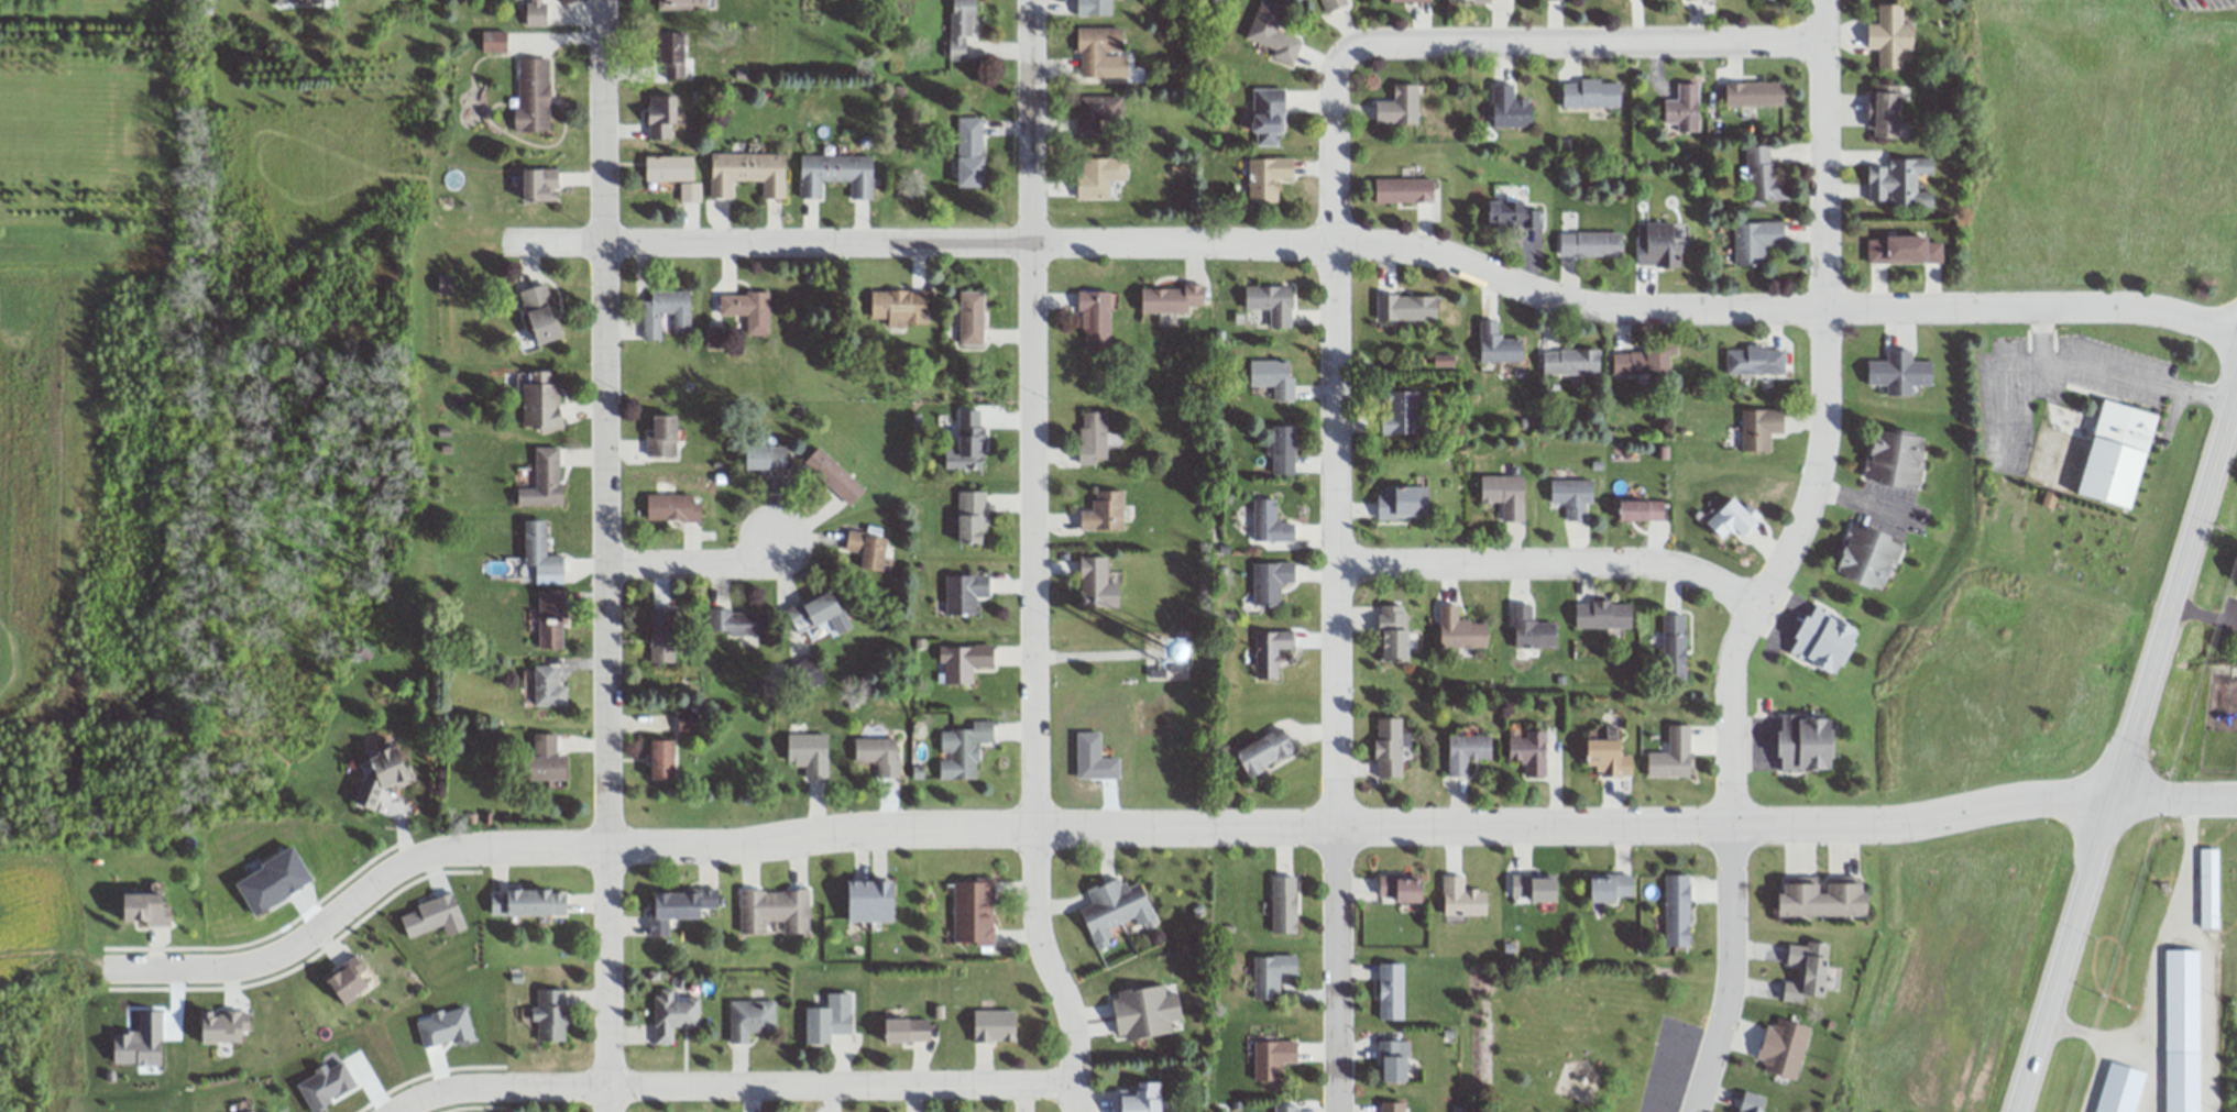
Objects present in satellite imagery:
building: (283, 0)
building: (1410, 0)
building: (1480, 0)
building: (309, 1)
building: (1331, 3)
building: (681, 4)
building: (1093, 7)
building: (536, 11)
building: (961, 26)
building: (1272, 32)
building: (1889, 36)
road: (1578, 41)
building: (1096, 48)
building: (672, 55)
building: (531, 92)
building: (1591, 92)
building: (1754, 92)
building: (1399, 104)
building: (1510, 106)
building: (1682, 107)
building: (1887, 110)
building: (1096, 112)
building: (661, 115)
building: (1268, 115)
building: (971, 151)
building: (747, 172)
building: (675, 174)
building: (836, 174)
building: (1098, 176)
building: (1763, 176)
building: (1266, 177)
building: (1899, 181)
building: (540, 183)
building: (1404, 189)
building: (1510, 213)
building: (1755, 240)
road: (1374, 242)
building: (1590, 243)
building: (1659, 244)
building: (1905, 249)
building: (445, 284)
building: (1170, 298)
building: (1271, 301)
building: (1405, 306)
building: (900, 307)
building: (747, 310)
building: (665, 311)
building: (540, 313)
building: (971, 318)
building: (1094, 319)
building: (713, 339)
building: (1498, 343)
building: (1754, 360)
building: (1570, 361)
building: (1641, 361)
road: (2109, 368)
building: (1898, 372)
building: (1273, 376)
road: (2000, 392)
building: (540, 399)
building: (1400, 411)
road: (1827, 423)
building: (1759, 428)
building: (662, 436)
building: (1092, 437)
building: (972, 438)
building: (2118, 453)
building: (1277, 454)
building: (1896, 458)
building: (766, 460)
building: (833, 476)
building: (544, 478)
building: (1504, 494)
building: (1571, 495)
building: (1403, 503)
building: (672, 507)
building: (1641, 509)
building: (1104, 510)
building: (972, 517)
building: (1733, 518)
building: (1269, 522)
building: (867, 550)
building: (539, 554)
road: (603, 555)
building: (1868, 555)
road: (1032, 558)
road: (691, 562)
road: (1557, 565)
building: (1270, 581)
road: (1339, 581)
building: (1099, 582)
building: (964, 594)
building: (818, 613)
building: (1602, 614)
building: (550, 620)
building: (737, 623)
building: (1531, 628)
building: (1460, 629)
building: (1393, 632)
building: (661, 635)
building: (1825, 640)
water tower: (1178, 646)
building: (1674, 647)
water tower: (1165, 649)
building: (1270, 652)
building: (964, 663)
building: (803, 675)
building: (547, 687)
building: (687, 723)
building: (1807, 742)
building: (1389, 747)
building: (964, 748)
building: (1265, 751)
building: (1466, 751)
road: (2131, 751)
building: (1528, 752)
building: (809, 755)
building: (877, 755)
building: (1673, 755)
building: (1609, 757)
building: (545, 760)
building: (664, 760)
building: (391, 768)
road: (2175, 804)
road: (1096, 826)
building: (1611, 887)
building: (1535, 888)
building: (2207, 888)
building: (1401, 889)
building: (1824, 896)
building: (1461, 898)
building: (527, 902)
building: (870, 902)
building: (1283, 905)
crop: (40, 906)
building: (1115, 909)
building: (144, 910)
building: (680, 910)
building: (771, 910)
building: (1677, 911)
building: (974, 912)
road: (1726, 972)
building: (1808, 972)
building: (1270, 973)
building: (348, 978)
building: (1390, 991)
building: (1144, 1012)
building: (550, 1014)
building: (670, 1015)
building: (827, 1017)
building: (748, 1019)
building: (994, 1025)
building: (906, 1030)
building: (2182, 1030)
park: (1582, 1034)
building: (1781, 1048)
building: (1272, 1058)
building: (1394, 1060)
parking lot: (1666, 1067)
road: (731, 1085)
building: (1139, 1098)
building: (1754, 1102)
building: (1392, 1107)
building: (1285, 1108)
building: (248, 1111)

